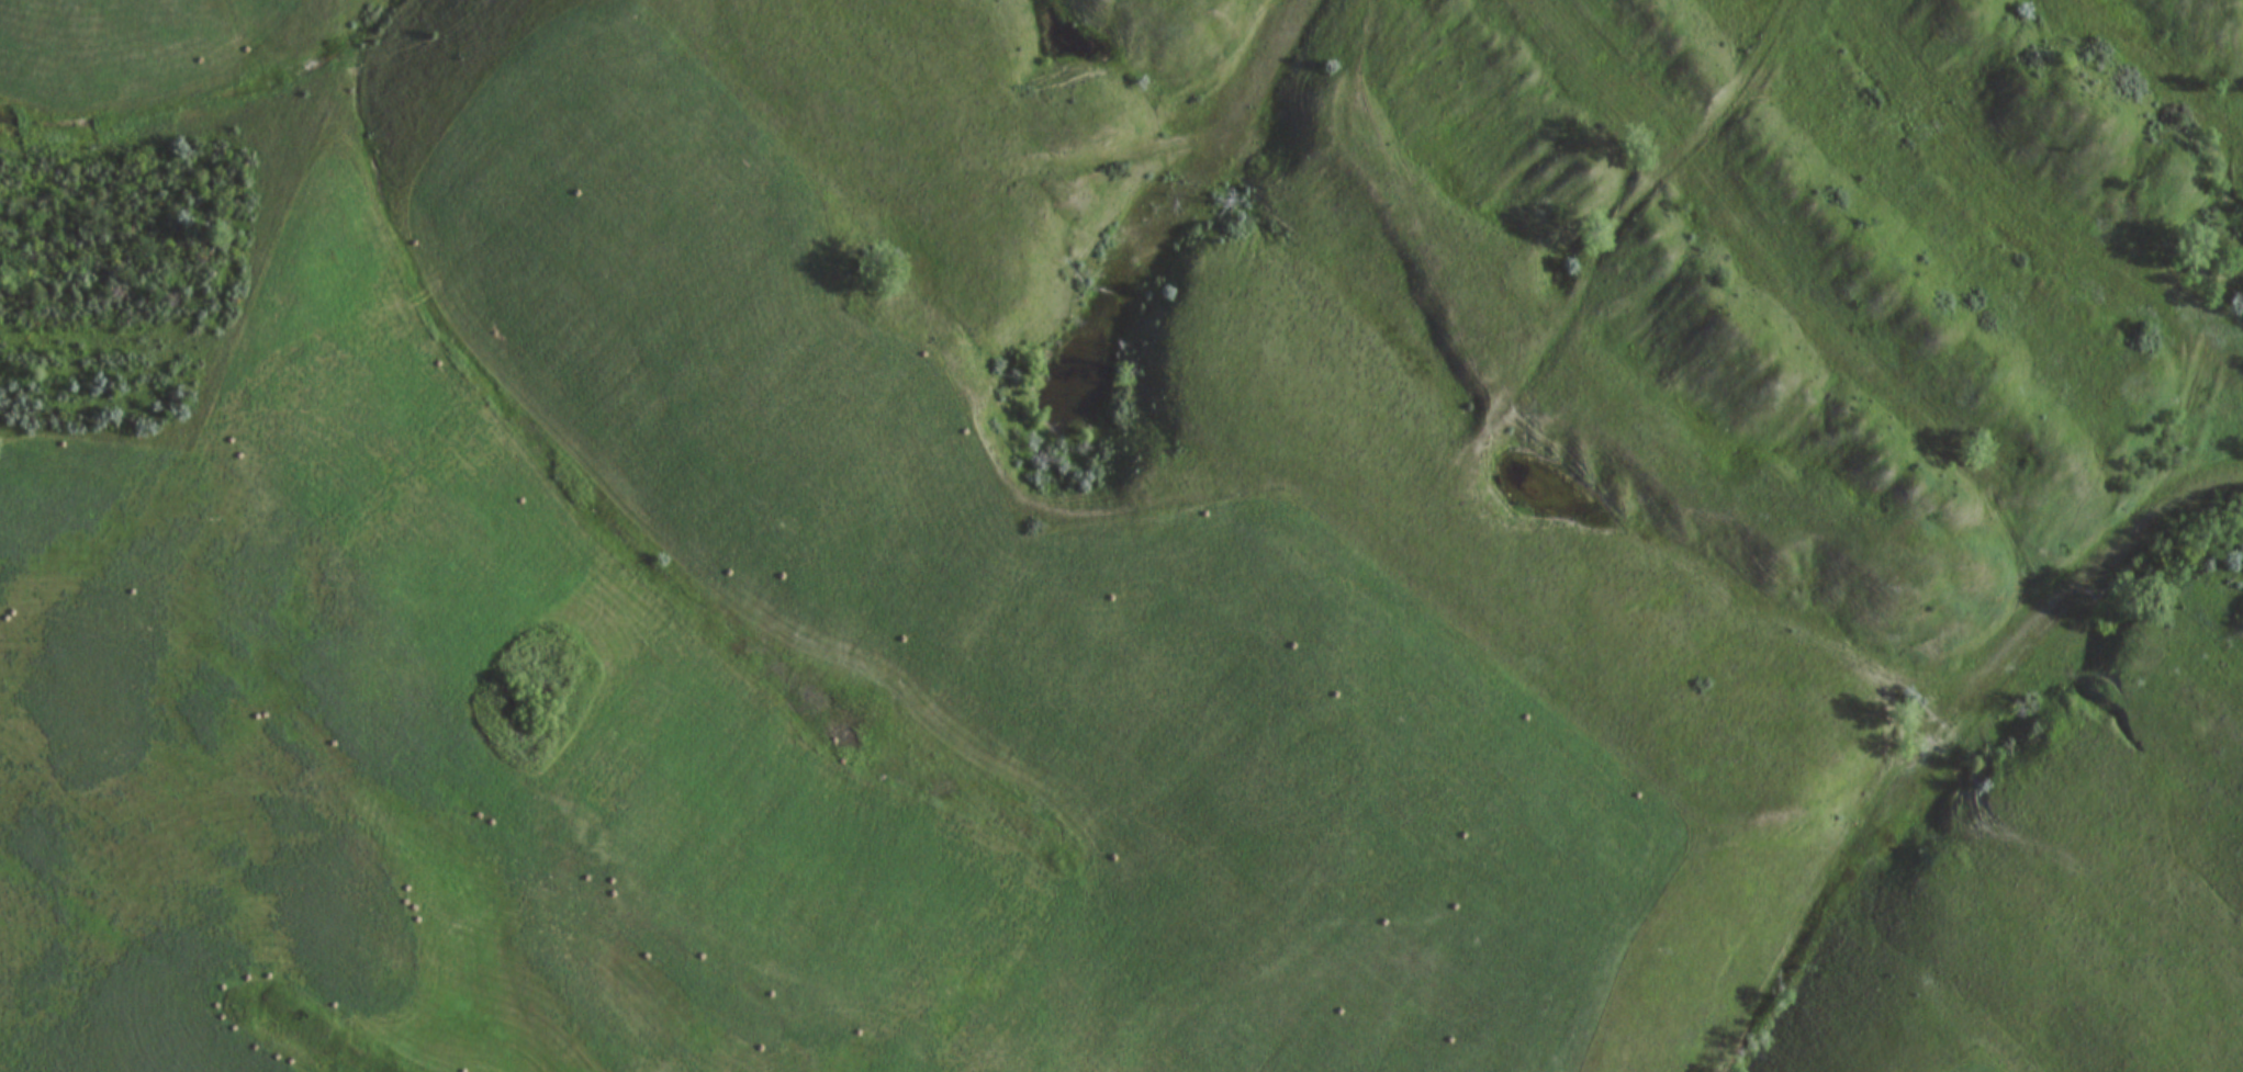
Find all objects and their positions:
road: (399, 18)
road: (1229, 144)
quarry: (1664, 405)
road: (1964, 722)
road: (1940, 738)

